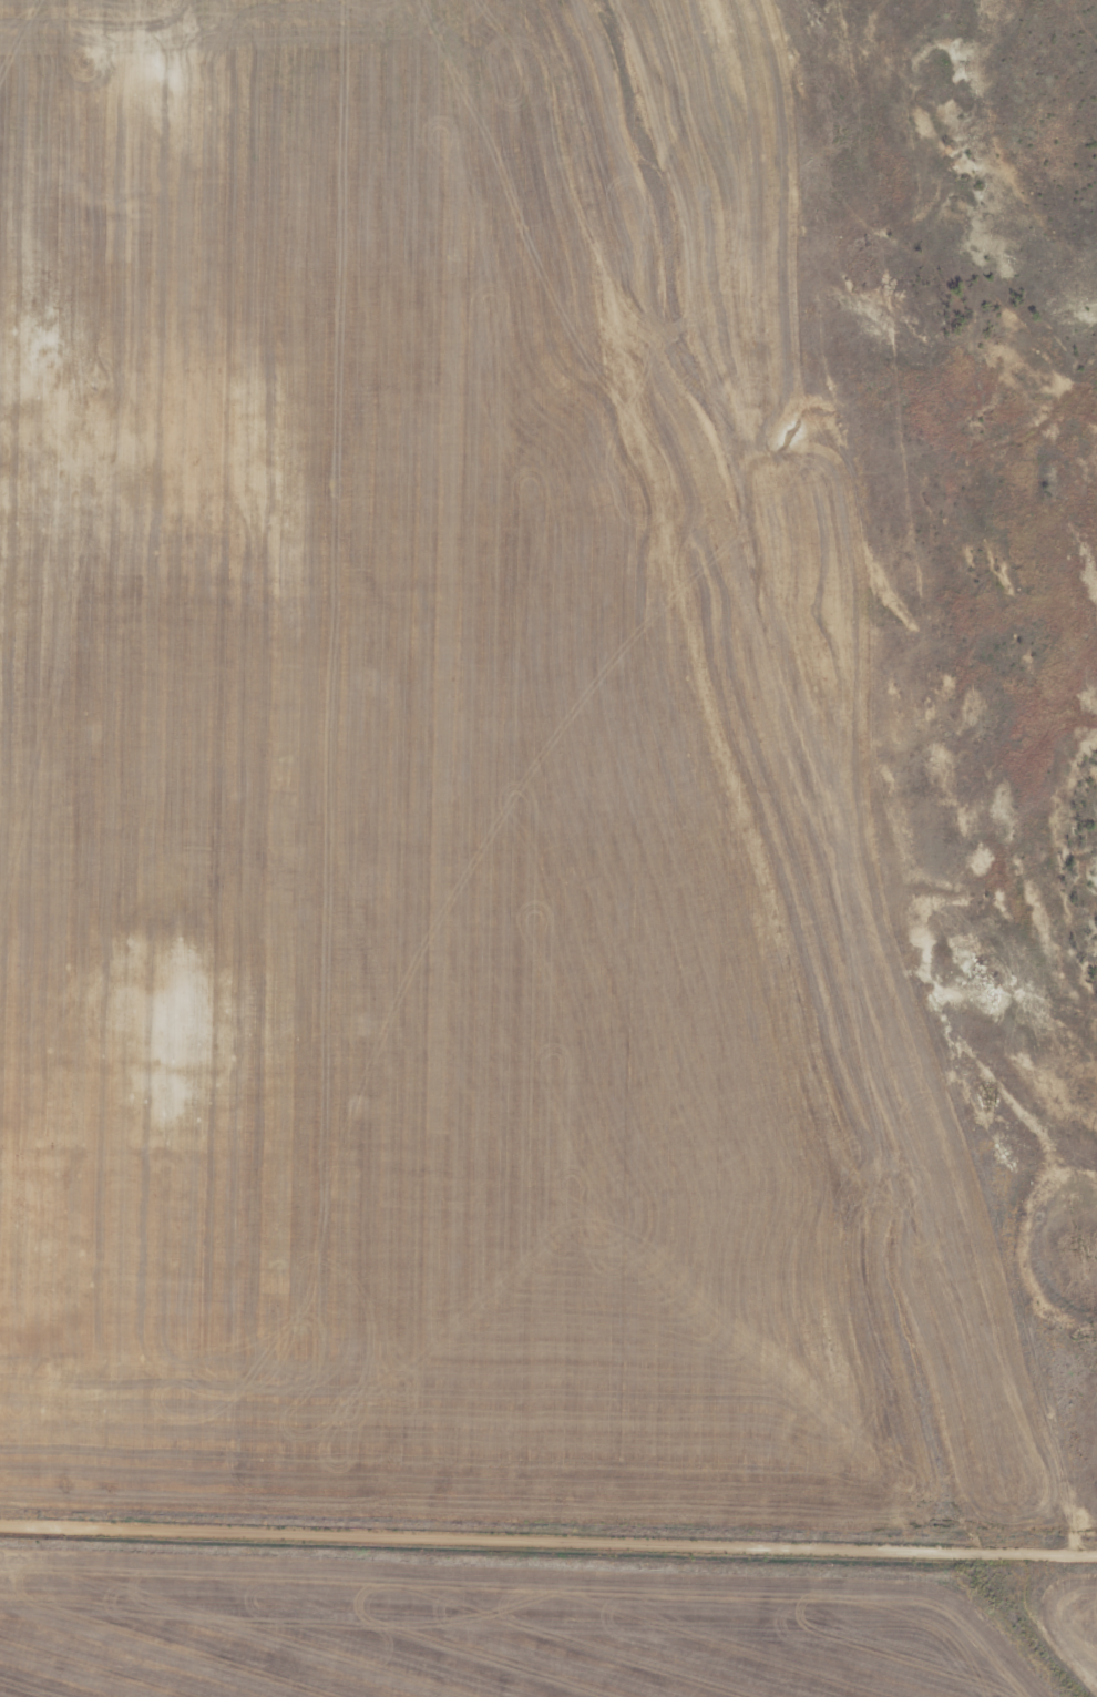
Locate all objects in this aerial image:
road: (548, 1536)

